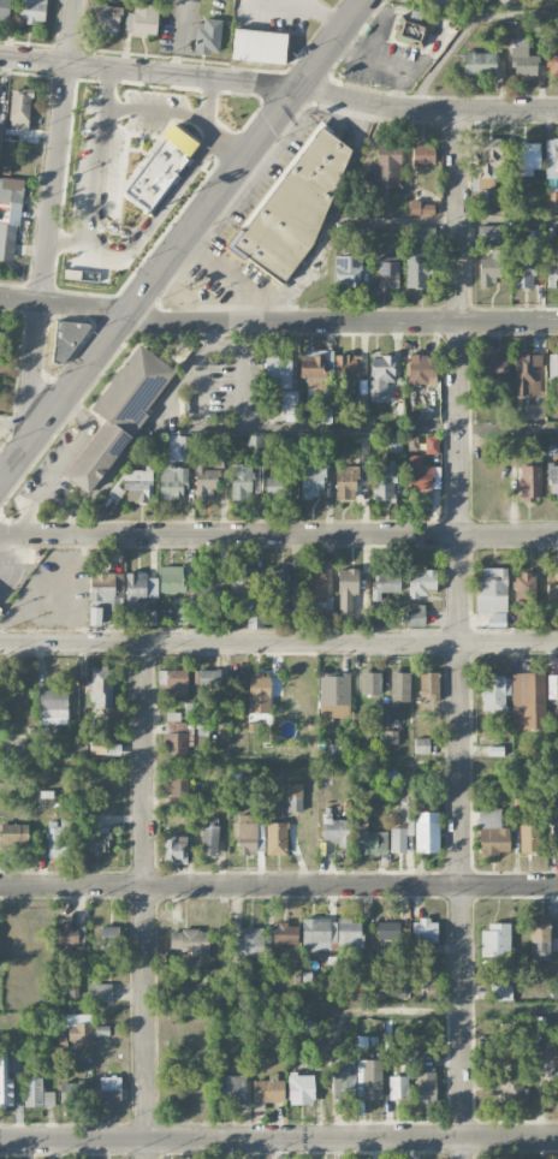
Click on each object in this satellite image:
building: (446, 2)
building: (5, 10)
building: (31, 11)
building: (107, 14)
building: (142, 19)
building: (411, 29)
building: (500, 35)
building: (207, 36)
building: (259, 46)
building: (523, 59)
building: (479, 63)
building: (552, 65)
road: (148, 70)
road: (107, 84)
road: (208, 100)
building: (19, 108)
road: (426, 112)
road: (182, 113)
building: (1, 131)
building: (423, 154)
building: (527, 156)
building: (551, 157)
building: (387, 165)
building: (160, 167)
building: (488, 182)
building: (552, 201)
building: (292, 208)
building: (421, 208)
building: (10, 215)
road: (507, 218)
road: (52, 222)
road: (121, 230)
building: (487, 233)
building: (534, 236)
road: (77, 239)
road: (179, 240)
building: (416, 267)
building: (489, 268)
building: (523, 268)
building: (348, 271)
building: (387, 273)
building: (552, 274)
road: (277, 321)
building: (65, 341)
road: (192, 363)
road: (238, 363)
building: (553, 367)
building: (492, 368)
building: (345, 369)
building: (313, 370)
building: (422, 370)
building: (278, 372)
building: (527, 372)
building: (380, 376)
building: (290, 399)
building: (361, 402)
building: (534, 411)
building: (119, 414)
building: (323, 414)
road: (509, 428)
building: (255, 442)
building: (325, 442)
building: (431, 444)
road: (66, 464)
building: (174, 468)
building: (420, 474)
building: (204, 479)
building: (311, 480)
building: (552, 480)
building: (241, 481)
building: (345, 482)
building: (384, 482)
building: (530, 482)
building: (138, 485)
building: (278, 488)
road: (278, 534)
building: (171, 579)
building: (421, 582)
building: (385, 583)
building: (243, 584)
building: (275, 584)
building: (313, 586)
building: (523, 587)
building: (138, 588)
building: (209, 588)
building: (346, 589)
building: (552, 590)
building: (492, 592)
building: (106, 599)
building: (254, 617)
building: (415, 617)
road: (459, 635)
road: (278, 642)
building: (209, 677)
building: (173, 682)
building: (370, 683)
building: (431, 685)
building: (553, 685)
building: (399, 687)
building: (101, 688)
building: (494, 690)
building: (259, 693)
building: (334, 694)
building: (528, 700)
building: (52, 706)
building: (172, 713)
building: (173, 736)
building: (421, 744)
building: (112, 749)
building: (554, 785)
building: (177, 786)
building: (293, 803)
building: (336, 830)
building: (427, 831)
building: (492, 832)
building: (13, 833)
building: (554, 833)
building: (249, 834)
building: (58, 838)
building: (275, 838)
building: (369, 838)
building: (529, 838)
building: (96, 839)
building: (398, 839)
building: (208, 840)
building: (176, 849)
road: (279, 886)
road: (146, 891)
building: (387, 931)
building: (285, 933)
building: (331, 933)
building: (70, 934)
building: (423, 935)
building: (540, 938)
building: (108, 939)
building: (495, 939)
building: (190, 941)
building: (248, 943)
building: (396, 988)
building: (100, 992)
building: (500, 992)
building: (79, 1029)
building: (556, 1074)
building: (369, 1078)
building: (343, 1080)
building: (426, 1083)
building: (509, 1083)
building: (5, 1086)
building: (398, 1087)
building: (301, 1088)
building: (231, 1089)
building: (268, 1089)
building: (36, 1092)
building: (109, 1092)
building: (71, 1093)
road: (279, 1139)
road: (148, 1149)

